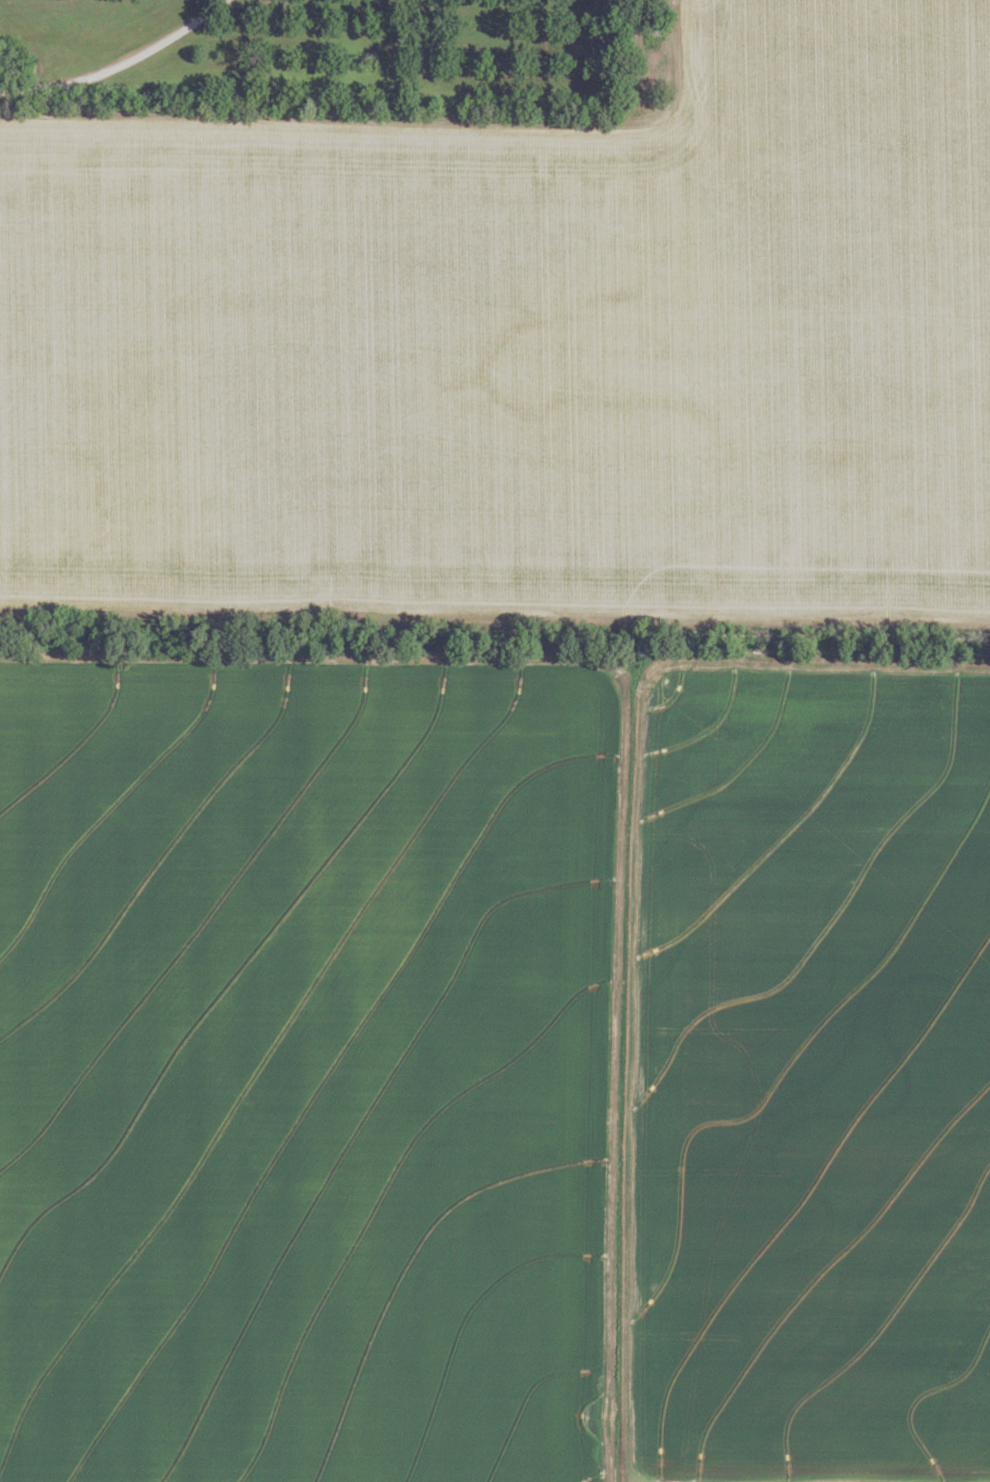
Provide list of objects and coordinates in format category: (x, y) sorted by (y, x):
road: (121, 65)
road: (638, 915)

